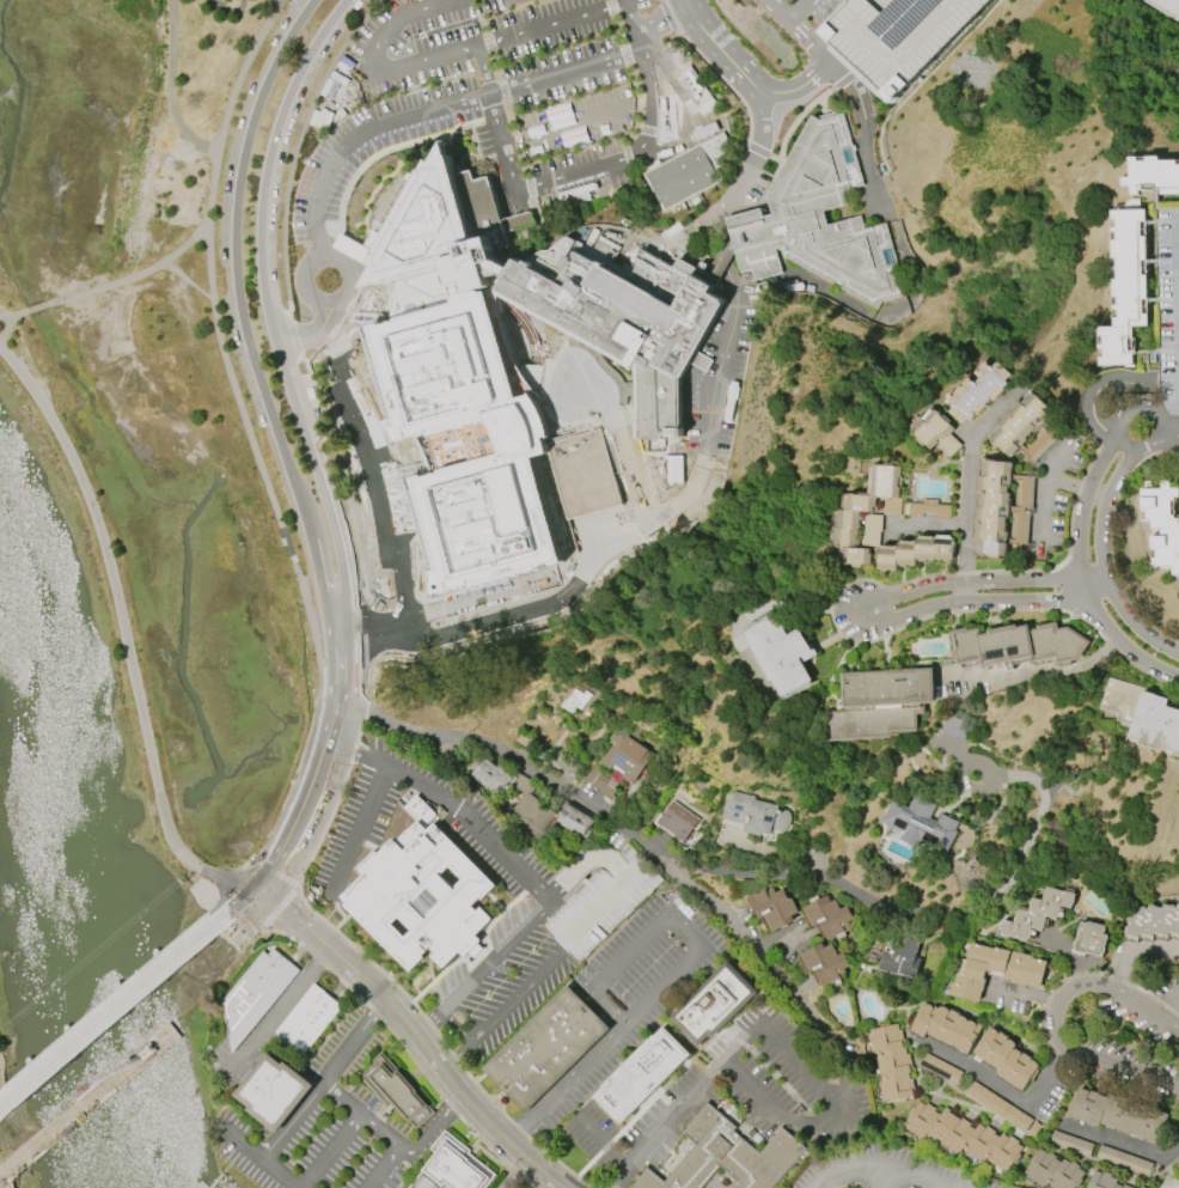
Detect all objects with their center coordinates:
building: (1166, 7)
road: (777, 11)
road: (799, 11)
road: (661, 20)
road: (396, 24)
road: (631, 24)
road: (551, 25)
building: (894, 38)
road: (423, 61)
road: (564, 71)
road: (647, 73)
road: (812, 74)
road: (228, 104)
road: (439, 106)
road: (688, 110)
road: (157, 112)
road: (755, 116)
road: (579, 118)
road: (188, 129)
road: (863, 129)
building: (690, 171)
road: (325, 173)
building: (1151, 175)
road: (263, 182)
road: (533, 184)
building: (818, 220)
road: (128, 237)
road: (329, 256)
road: (189, 279)
road: (110, 281)
building: (1125, 288)
road: (240, 311)
road: (298, 336)
building: (446, 370)
road: (560, 370)
park: (153, 377)
road: (713, 386)
building: (978, 391)
road: (1095, 391)
road: (1138, 401)
building: (1025, 428)
road: (1178, 429)
building: (935, 433)
road: (1157, 435)
road: (1056, 461)
road: (634, 468)
building: (673, 469)
building: (585, 474)
road: (969, 475)
road: (380, 480)
road: (1043, 493)
road: (1086, 494)
road: (325, 501)
road: (1106, 504)
building: (928, 507)
building: (1002, 508)
building: (849, 514)
building: (1162, 524)
building: (870, 530)
building: (915, 552)
road: (292, 563)
road: (978, 583)
road: (548, 603)
road: (982, 603)
road: (375, 621)
road: (1130, 622)
road: (129, 638)
road: (1117, 641)
road: (381, 644)
building: (1015, 644)
building: (780, 654)
road: (1030, 669)
building: (580, 699)
building: (1120, 701)
building: (879, 702)
building: (1156, 724)
building: (627, 757)
road: (328, 764)
building: (493, 773)
building: (531, 804)
road: (453, 806)
building: (755, 814)
building: (575, 820)
building: (677, 821)
road: (613, 823)
building: (920, 824)
road: (356, 831)
river: (71, 878)
traffic signals: (268, 895)
building: (422, 897)
road: (261, 903)
building: (772, 908)
road: (666, 914)
building: (1036, 914)
road: (227, 915)
building: (827, 916)
road: (906, 916)
building: (1154, 920)
road: (246, 921)
building: (1089, 938)
building: (902, 959)
road: (1069, 961)
building: (825, 963)
building: (995, 969)
road: (483, 970)
building: (255, 994)
road: (1020, 995)
road: (1161, 998)
building: (714, 1004)
road: (277, 1011)
road: (499, 1013)
road: (1053, 1018)
building: (307, 1019)
road: (109, 1025)
road: (458, 1026)
building: (946, 1026)
road: (122, 1036)
road: (417, 1037)
building: (545, 1048)
building: (1006, 1059)
building: (891, 1062)
building: (940, 1068)
building: (641, 1074)
road: (323, 1079)
road: (569, 1085)
road: (1004, 1085)
building: (274, 1092)
building: (397, 1092)
road: (341, 1097)
road: (839, 1101)
building: (1002, 1109)
building: (1118, 1114)
road: (665, 1122)
road: (434, 1126)
road: (379, 1129)
building: (963, 1135)
road: (603, 1140)
road: (1123, 1140)
building: (1070, 1144)
road: (331, 1151)
building: (727, 1156)
road: (261, 1159)
building: (1123, 1162)
building: (1178, 1162)
building: (1178, 1162)
building: (457, 1165)
building: (1178, 1165)
road: (383, 1166)
road: (861, 1166)
building: (1052, 1170)
road: (514, 1174)
building: (1102, 1181)
road: (904, 1182)
road: (926, 1182)
building: (1142, 1187)

